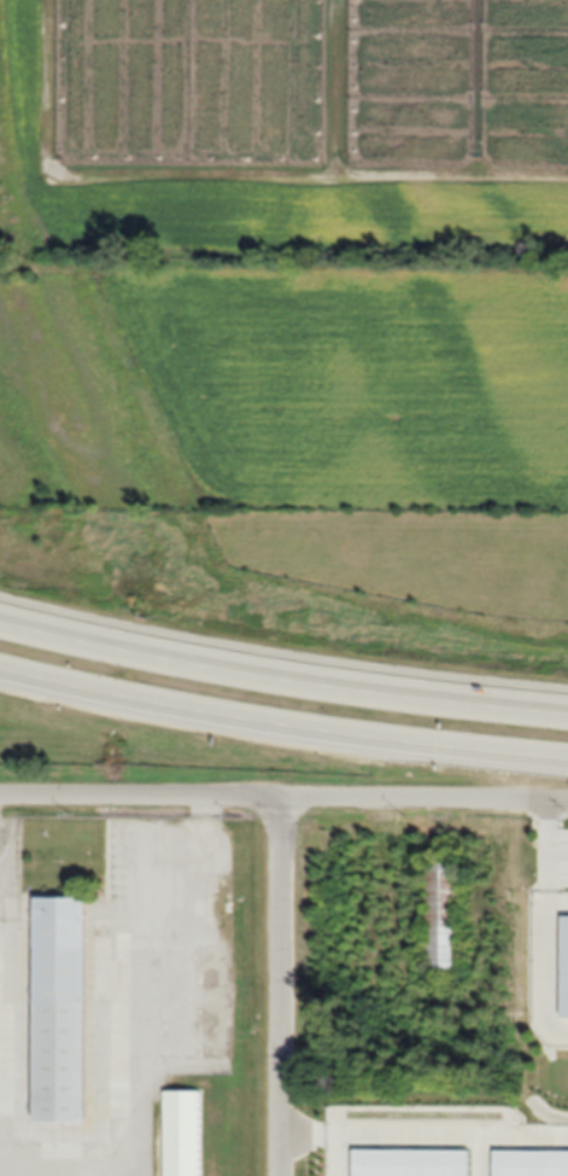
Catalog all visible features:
crop: (295, 283)
road: (282, 651)
road: (282, 677)
road: (282, 722)
road: (283, 803)
building: (444, 915)
road: (547, 986)
road: (277, 989)
building: (53, 1007)
building: (177, 1133)
road: (532, 1148)
building: (547, 1168)
road: (292, 1172)

